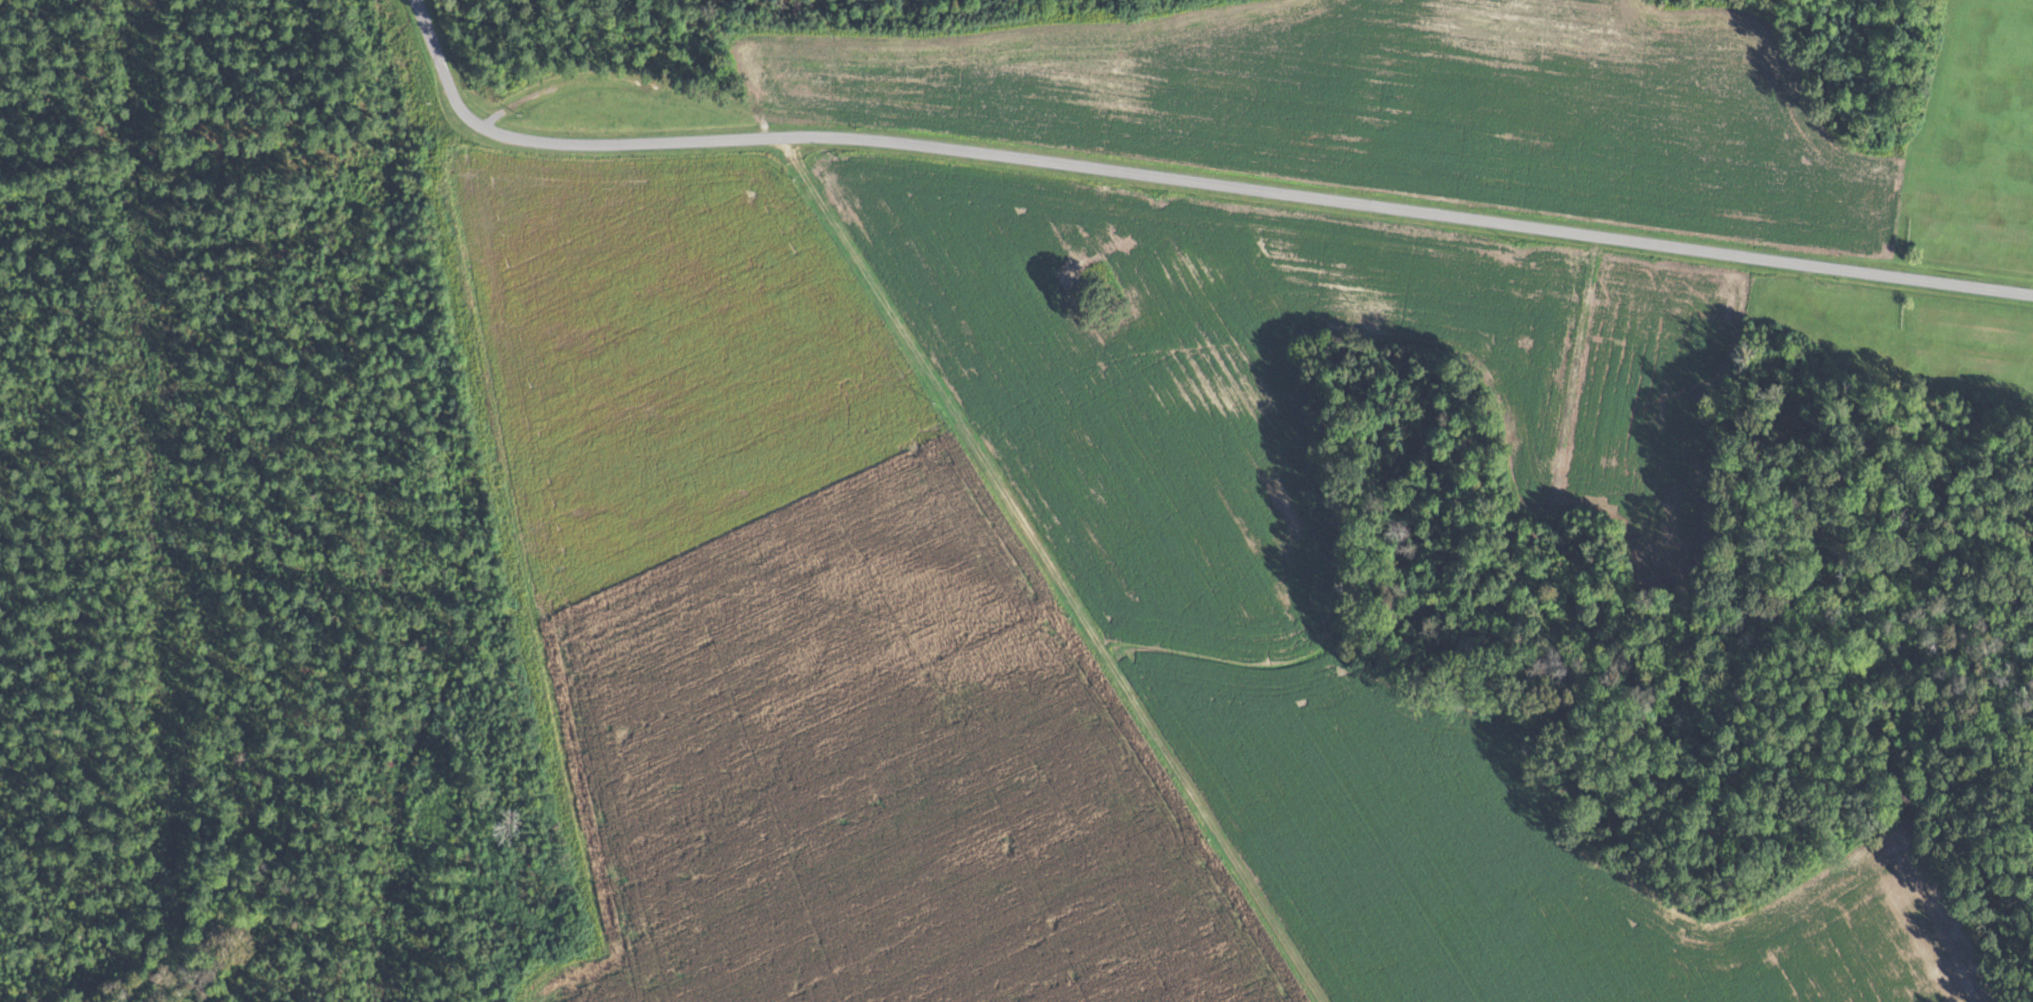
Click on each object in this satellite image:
road: (559, 142)
road: (1409, 210)
park: (944, 497)
road: (1048, 571)

